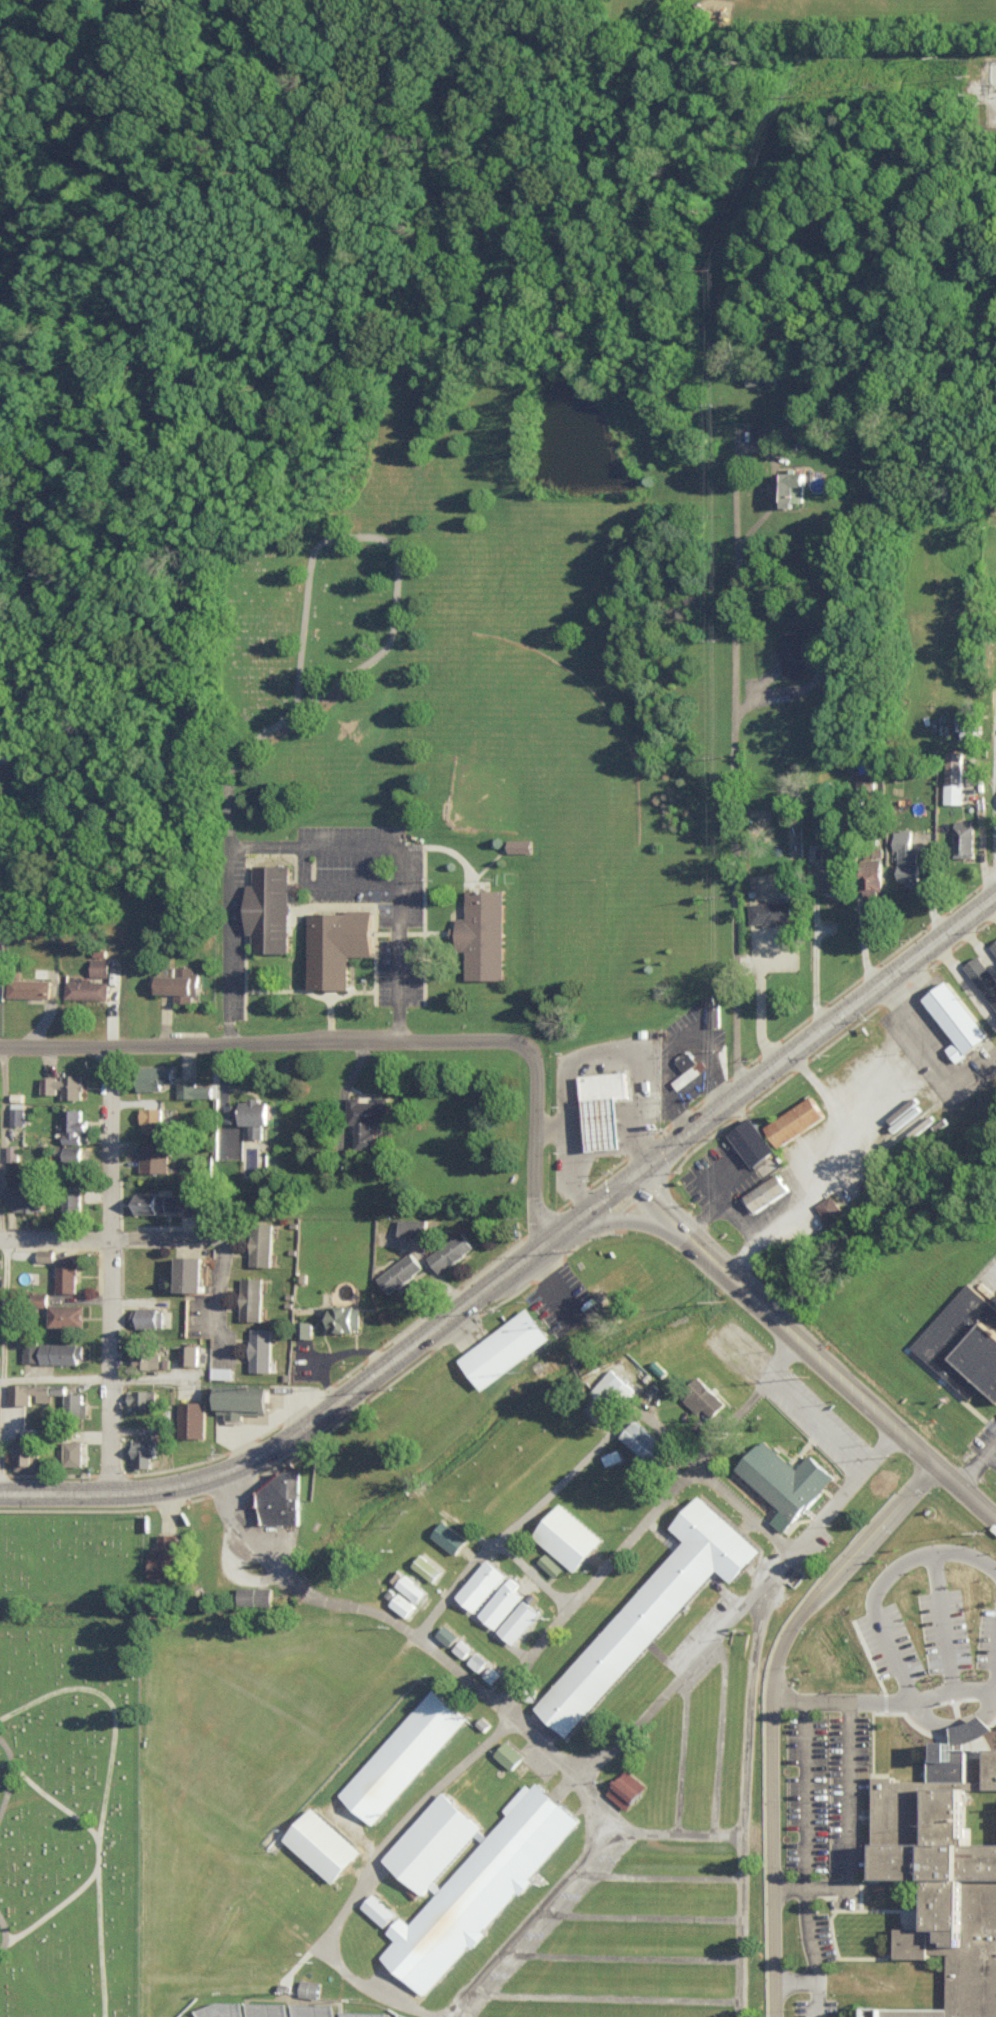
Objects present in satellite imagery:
building: (760, 432)
building: (788, 485)
road: (352, 530)
building: (792, 651)
road: (733, 698)
building: (967, 723)
building: (954, 776)
road: (980, 822)
building: (964, 837)
building: (519, 844)
road: (409, 853)
building: (907, 856)
road: (237, 858)
building: (831, 869)
building: (872, 873)
road: (858, 895)
road: (991, 904)
building: (269, 906)
building: (770, 911)
building: (482, 932)
road: (815, 935)
road: (978, 940)
building: (337, 944)
building: (993, 945)
building: (98, 965)
building: (983, 976)
road: (966, 977)
building: (180, 982)
building: (27, 986)
building: (85, 988)
road: (861, 995)
road: (912, 996)
road: (761, 1004)
building: (710, 1009)
building: (957, 1018)
road: (368, 1033)
road: (677, 1039)
road: (931, 1045)
road: (590, 1052)
building: (687, 1060)
building: (153, 1076)
road: (355, 1080)
building: (62, 1084)
road: (232, 1087)
building: (192, 1088)
building: (605, 1106)
building: (234, 1111)
building: (17, 1114)
building: (257, 1114)
building: (366, 1117)
building: (151, 1118)
building: (795, 1119)
building: (72, 1124)
road: (554, 1127)
road: (682, 1133)
road: (2, 1137)
building: (753, 1140)
building: (12, 1151)
building: (71, 1151)
building: (154, 1155)
road: (857, 1155)
traffic signals: (638, 1168)
road: (710, 1182)
building: (765, 1192)
road: (602, 1195)
building: (25, 1197)
building: (71, 1201)
building: (151, 1201)
building: (190, 1202)
building: (830, 1209)
road: (624, 1217)
road: (741, 1221)
building: (412, 1225)
road: (54, 1233)
road: (688, 1233)
road: (217, 1241)
building: (261, 1244)
road: (532, 1249)
building: (450, 1250)
building: (45, 1253)
road: (108, 1267)
building: (400, 1271)
building: (192, 1272)
building: (66, 1273)
building: (39, 1297)
building: (251, 1297)
building: (66, 1313)
building: (147, 1316)
building: (343, 1316)
building: (303, 1328)
road: (2, 1342)
building: (505, 1347)
building: (260, 1348)
building: (31, 1351)
building: (984, 1351)
building: (61, 1352)
building: (189, 1353)
building: (146, 1354)
road: (781, 1356)
building: (221, 1371)
road: (55, 1378)
road: (841, 1378)
building: (612, 1389)
building: (28, 1391)
building: (702, 1397)
building: (142, 1398)
building: (242, 1399)
road: (749, 1400)
building: (75, 1402)
road: (797, 1402)
building: (191, 1418)
road: (679, 1429)
building: (59, 1433)
parking lot: (990, 1436)
building: (644, 1441)
road: (715, 1443)
road: (272, 1445)
building: (27, 1450)
building: (142, 1450)
building: (73, 1451)
building: (495, 1454)
building: (613, 1456)
building: (485, 1461)
road: (978, 1466)
building: (785, 1480)
road: (965, 1490)
road: (750, 1498)
building: (278, 1499)
building: (491, 1499)
road: (882, 1519)
road: (516, 1525)
building: (569, 1535)
building: (449, 1536)
building: (166, 1556)
building: (551, 1563)
building: (427, 1566)
road: (543, 1567)
road: (881, 1578)
road: (597, 1580)
building: (481, 1583)
building: (410, 1586)
building: (255, 1595)
building: (501, 1602)
building: (402, 1603)
road: (745, 1603)
building: (654, 1605)
building: (519, 1620)
road: (935, 1621)
road: (427, 1628)
building: (572, 1632)
building: (447, 1634)
building: (216, 1637)
building: (235, 1638)
building: (201, 1643)
building: (478, 1660)
road: (993, 1668)
building: (493, 1673)
building: (352, 1689)
road: (949, 1690)
road: (119, 1696)
road: (841, 1698)
building: (364, 1702)
building: (190, 1710)
road: (954, 1719)
road: (719, 1731)
building: (331, 1744)
building: (404, 1754)
park: (77, 1762)
road: (19, 1775)
building: (293, 1784)
road: (770, 1787)
building: (626, 1789)
road: (752, 1796)
building: (995, 1831)
building: (322, 1842)
road: (108, 1851)
road: (805, 1858)
building: (946, 1865)
road: (582, 1873)
building: (467, 1875)
road: (373, 1876)
building: (379, 1909)
road: (9, 1912)
building: (157, 1922)
road: (109, 1939)
building: (309, 1987)
building: (220, 2009)
building: (266, 2009)
building: (312, 2009)
building: (362, 2013)

